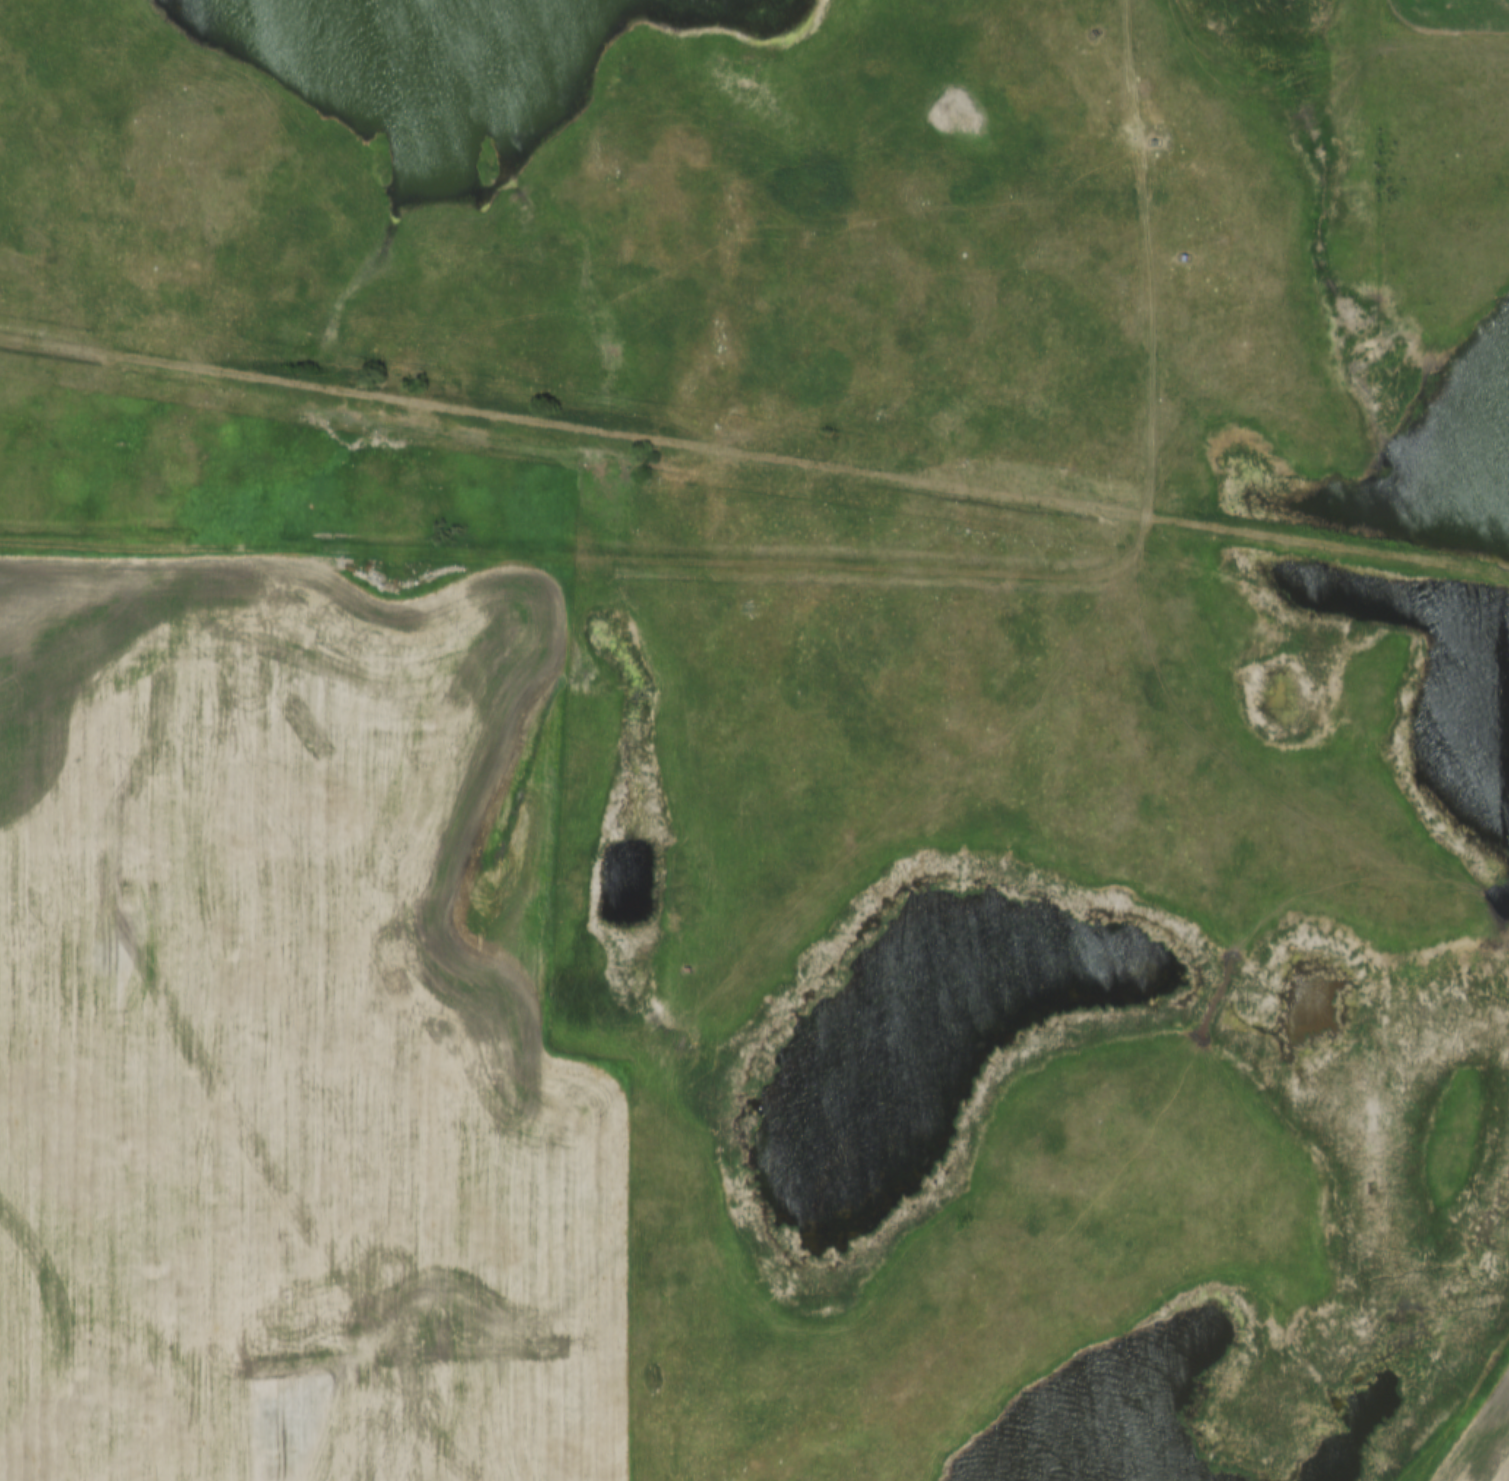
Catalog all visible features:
road: (757, 568)

